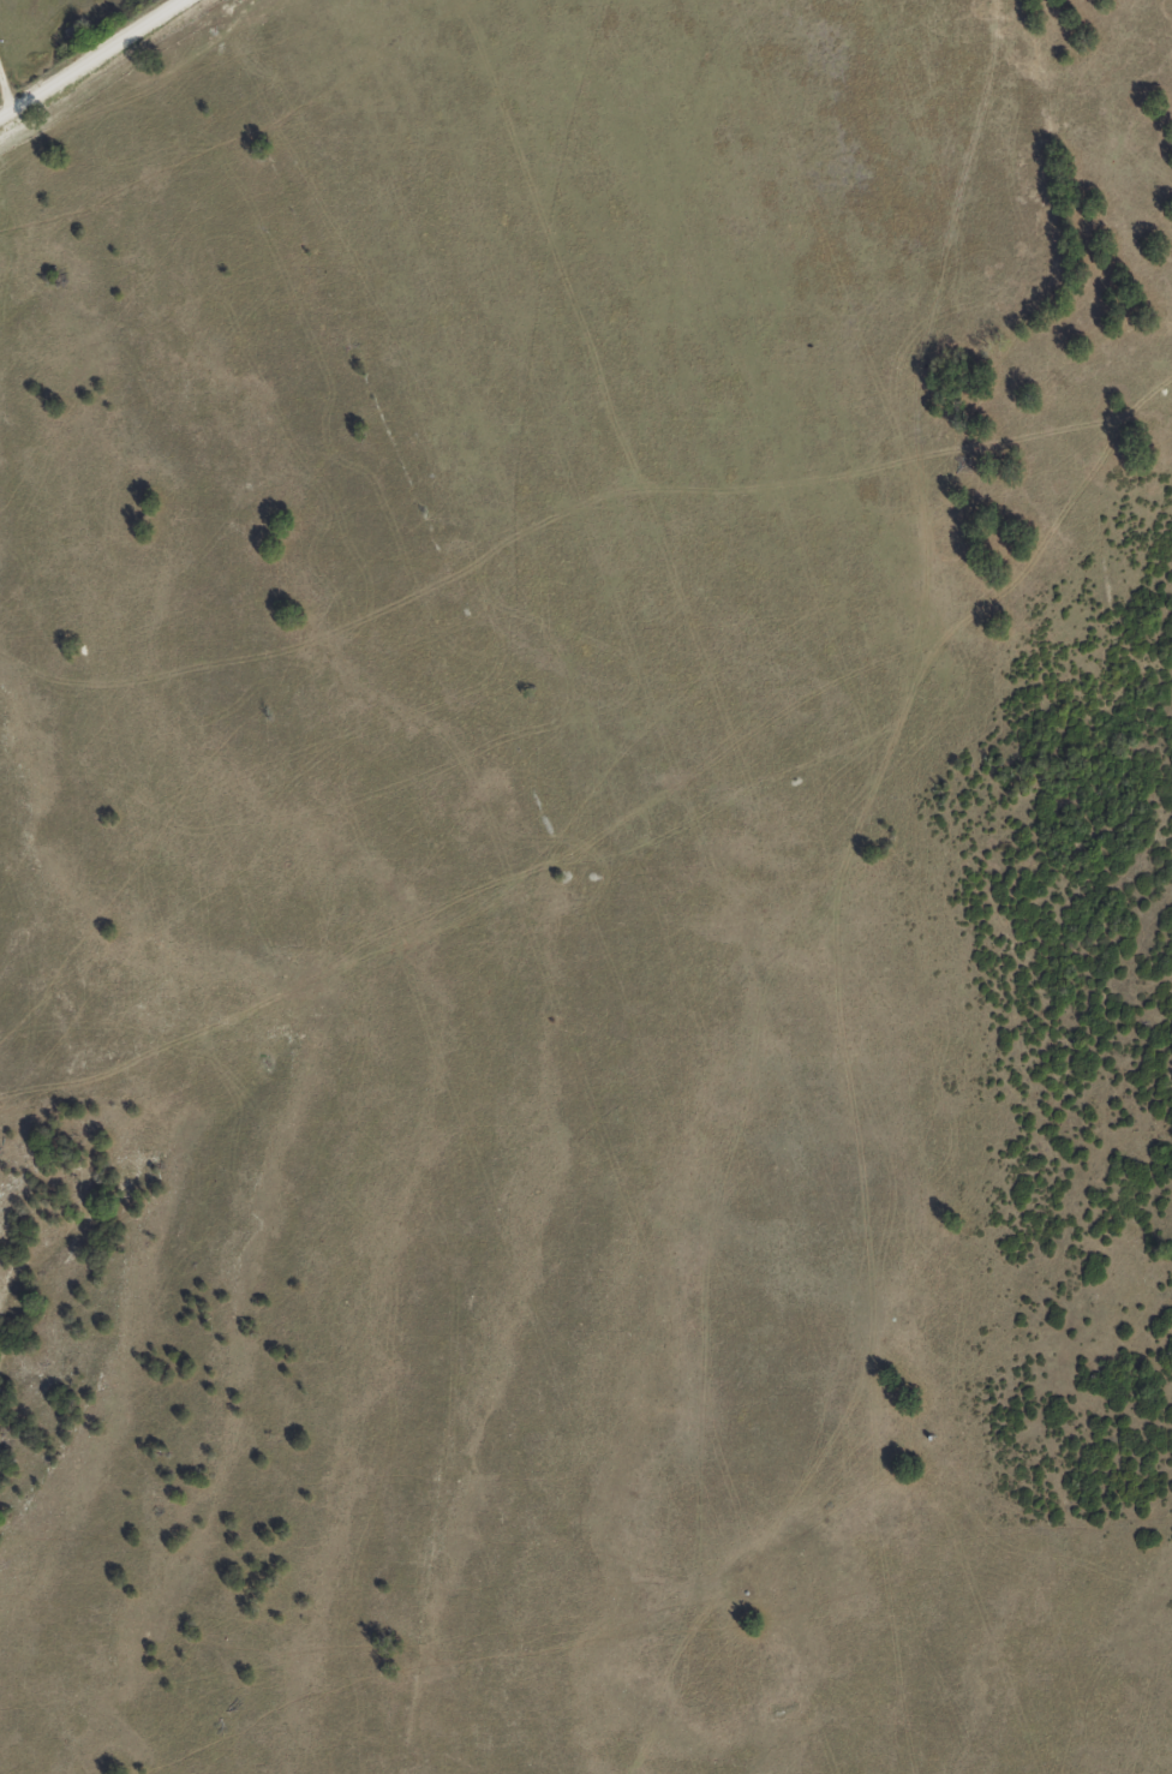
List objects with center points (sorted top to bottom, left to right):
road: (85, 56)

